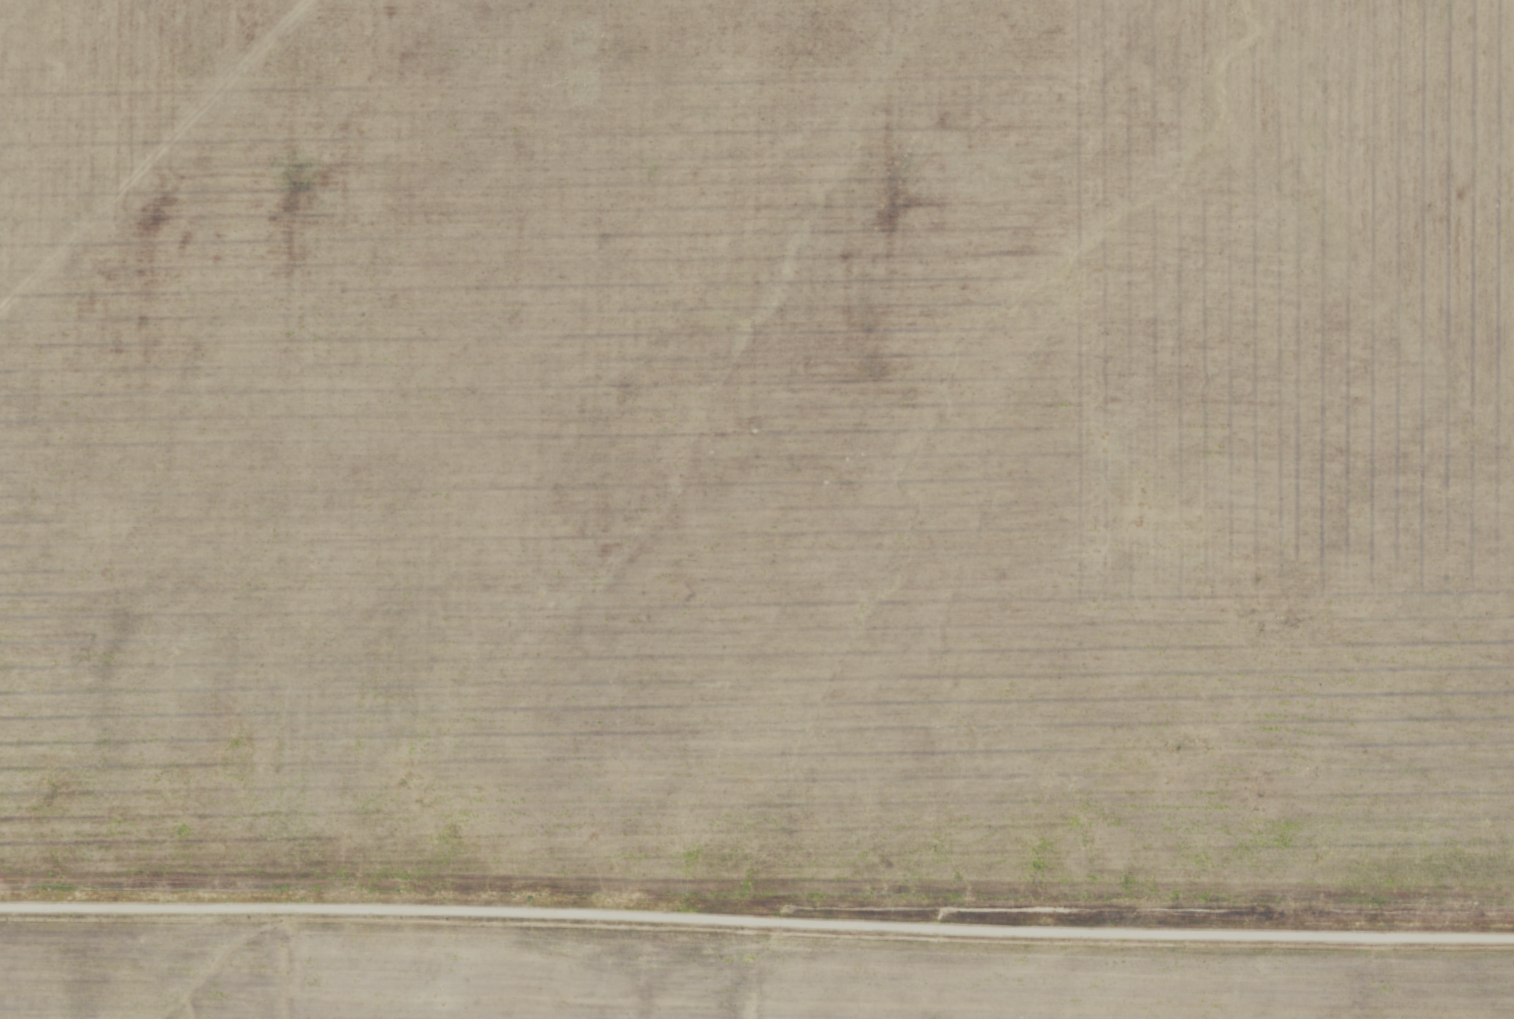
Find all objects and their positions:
road: (757, 922)

